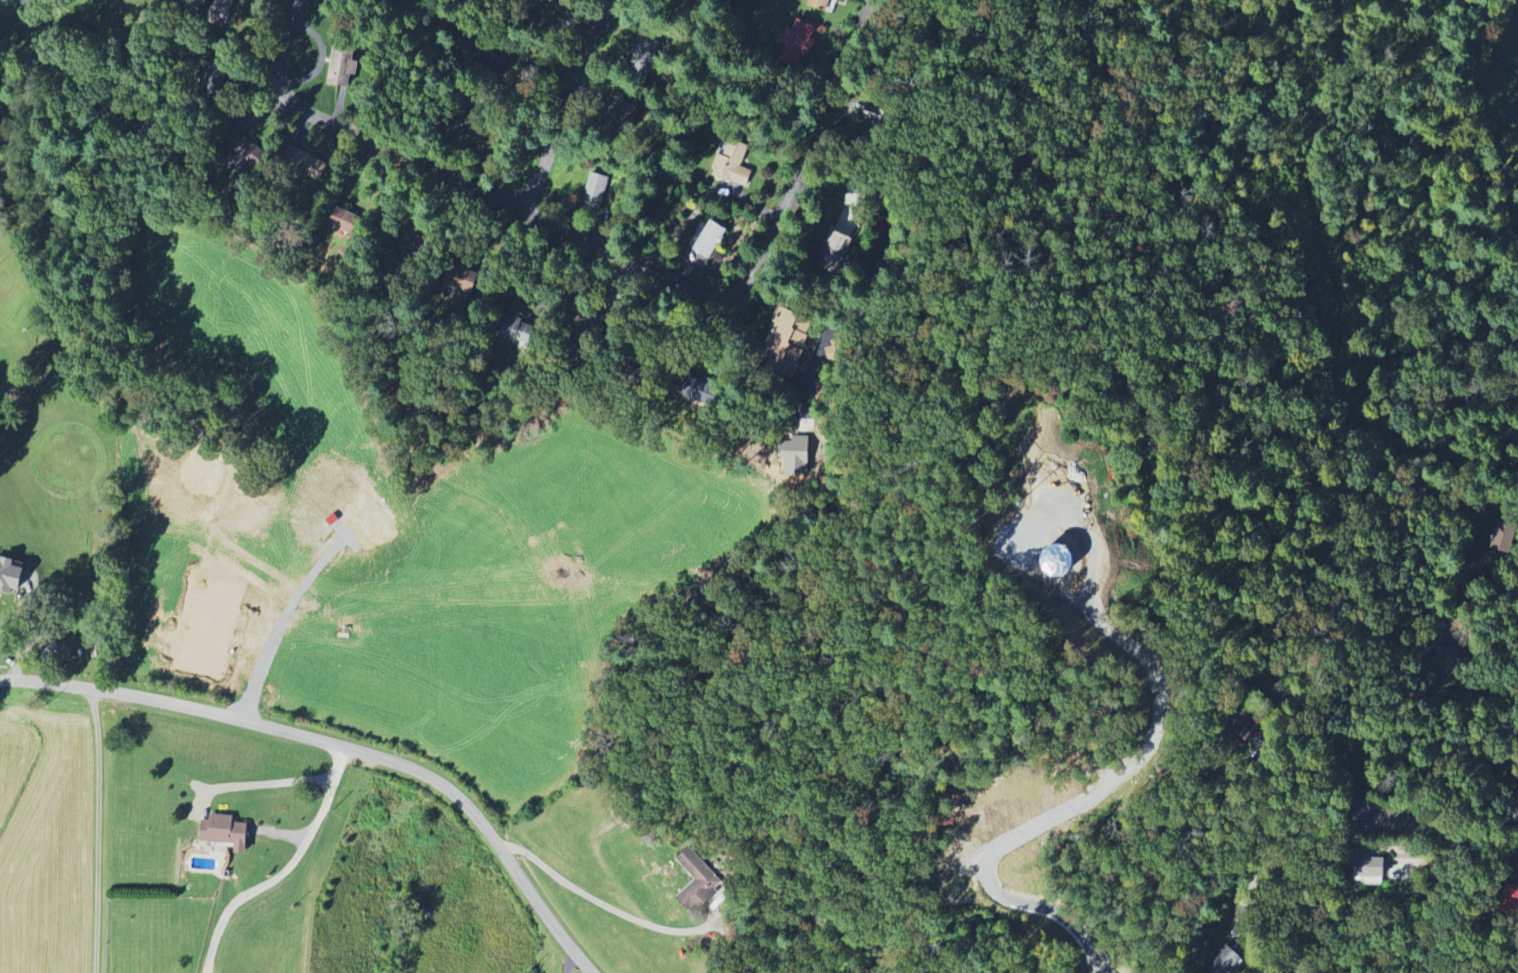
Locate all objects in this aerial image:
building: (819, 3)
building: (222, 9)
building: (796, 43)
building: (645, 47)
building: (342, 66)
road: (568, 104)
building: (625, 117)
road: (1448, 117)
building: (868, 118)
road: (362, 135)
building: (310, 162)
building: (731, 163)
building: (594, 192)
building: (710, 239)
building: (835, 246)
road: (760, 253)
road: (887, 256)
building: (519, 332)
building: (787, 335)
building: (826, 349)
building: (794, 455)
building: (210, 468)
building: (1066, 481)
building: (11, 572)
road: (1485, 582)
road: (1485, 697)
road: (1320, 726)
road: (341, 746)
road: (278, 781)
building: (1514, 814)
road: (98, 829)
building: (225, 831)
road: (1440, 831)
road: (1282, 858)
building: (1367, 869)
road: (276, 879)
building: (697, 882)
road: (607, 906)

